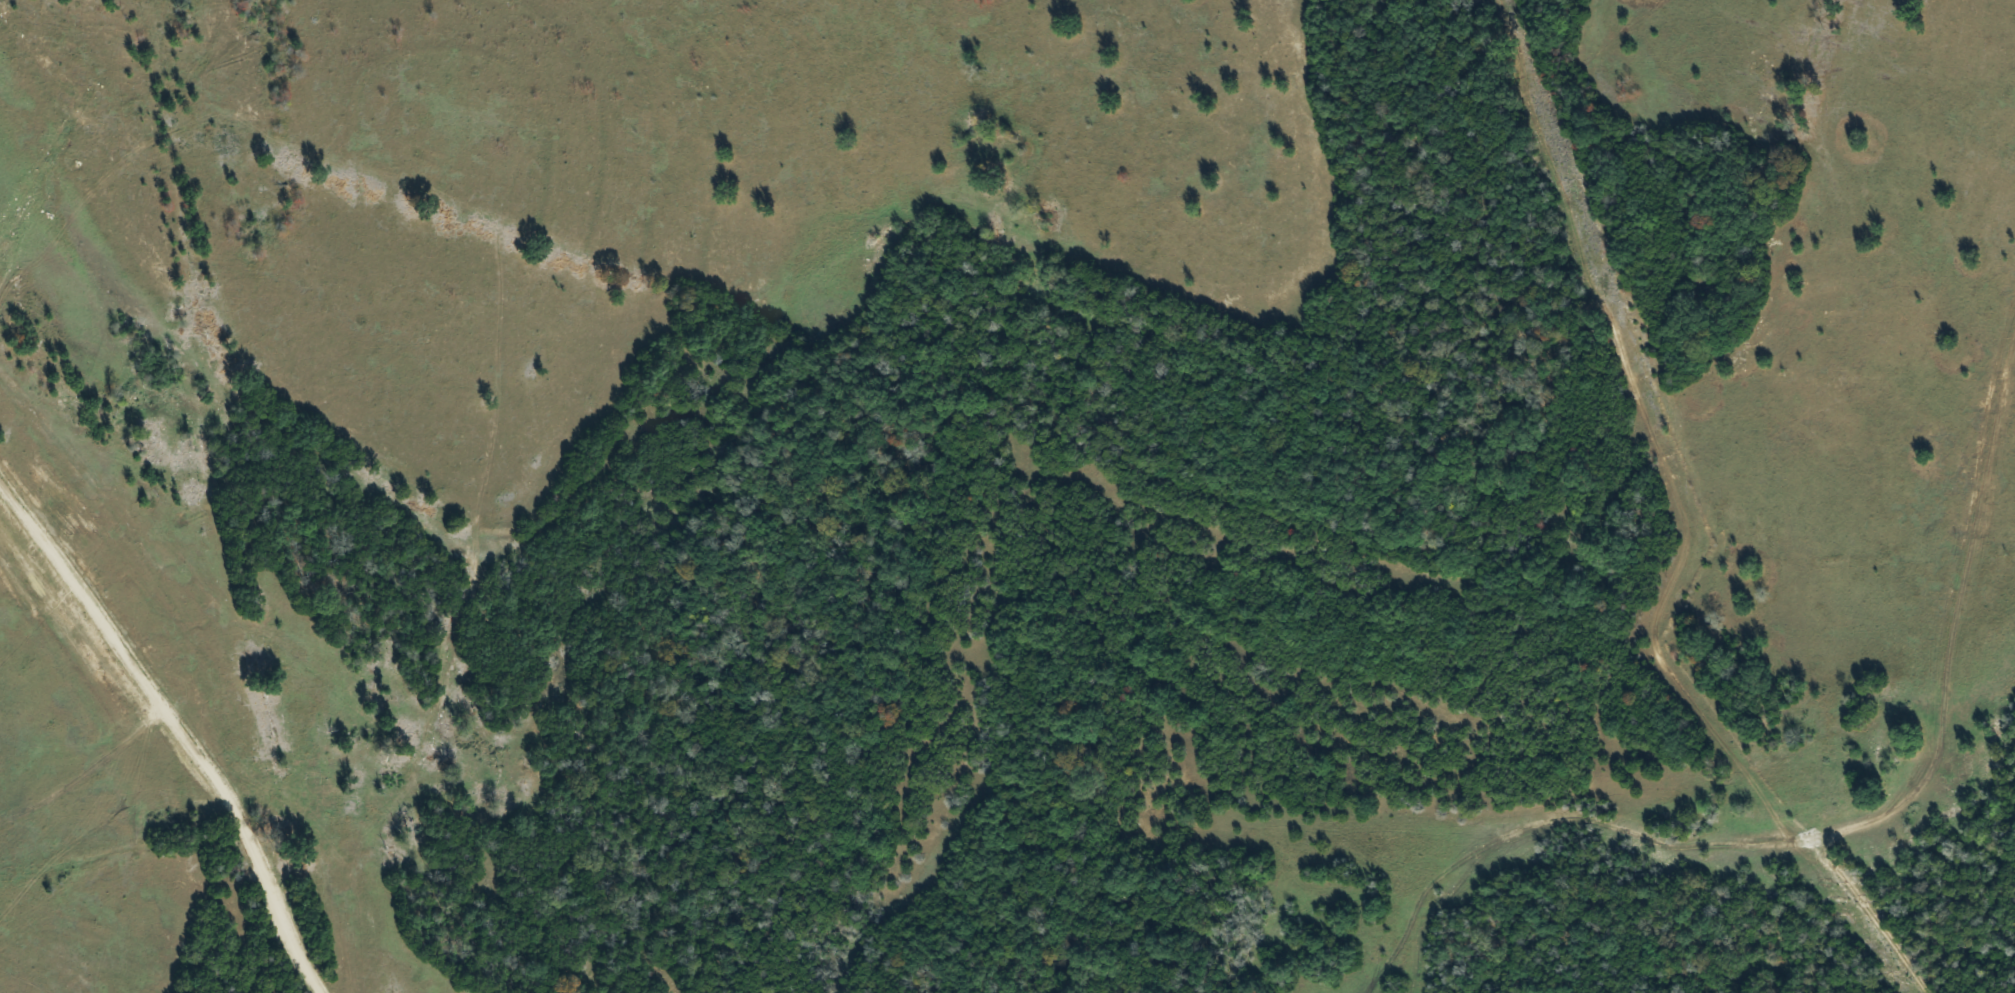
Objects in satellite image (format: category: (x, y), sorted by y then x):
road: (1684, 525)
road: (179, 735)

